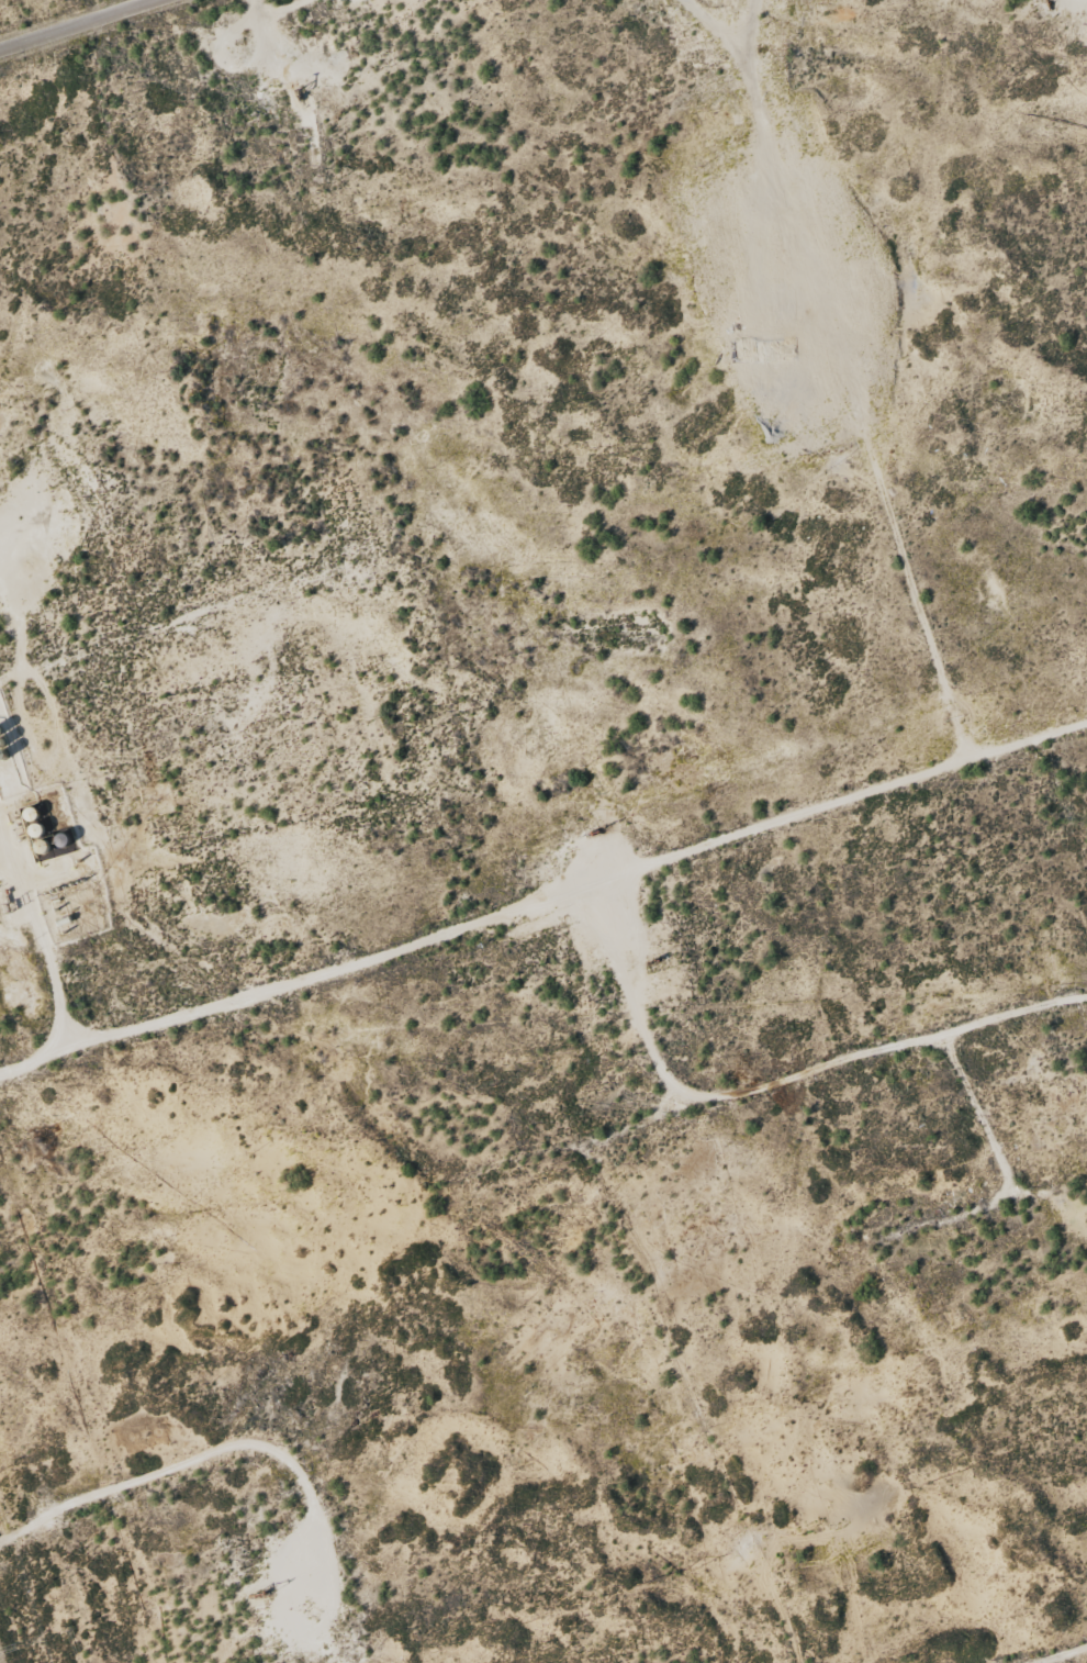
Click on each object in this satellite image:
road: (703, 23)
road: (77, 24)
road: (878, 381)
road: (125, 599)
road: (547, 926)
road: (42, 944)
road: (634, 1029)
road: (477, 1194)
road: (683, 1420)

